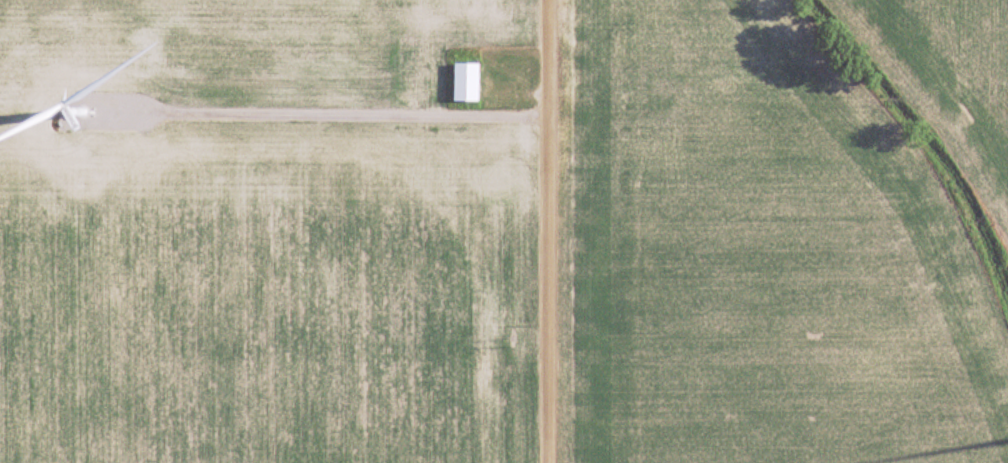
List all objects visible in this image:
building: (465, 82)
wind turbine: (42, 110)
road: (343, 115)
road: (547, 231)

